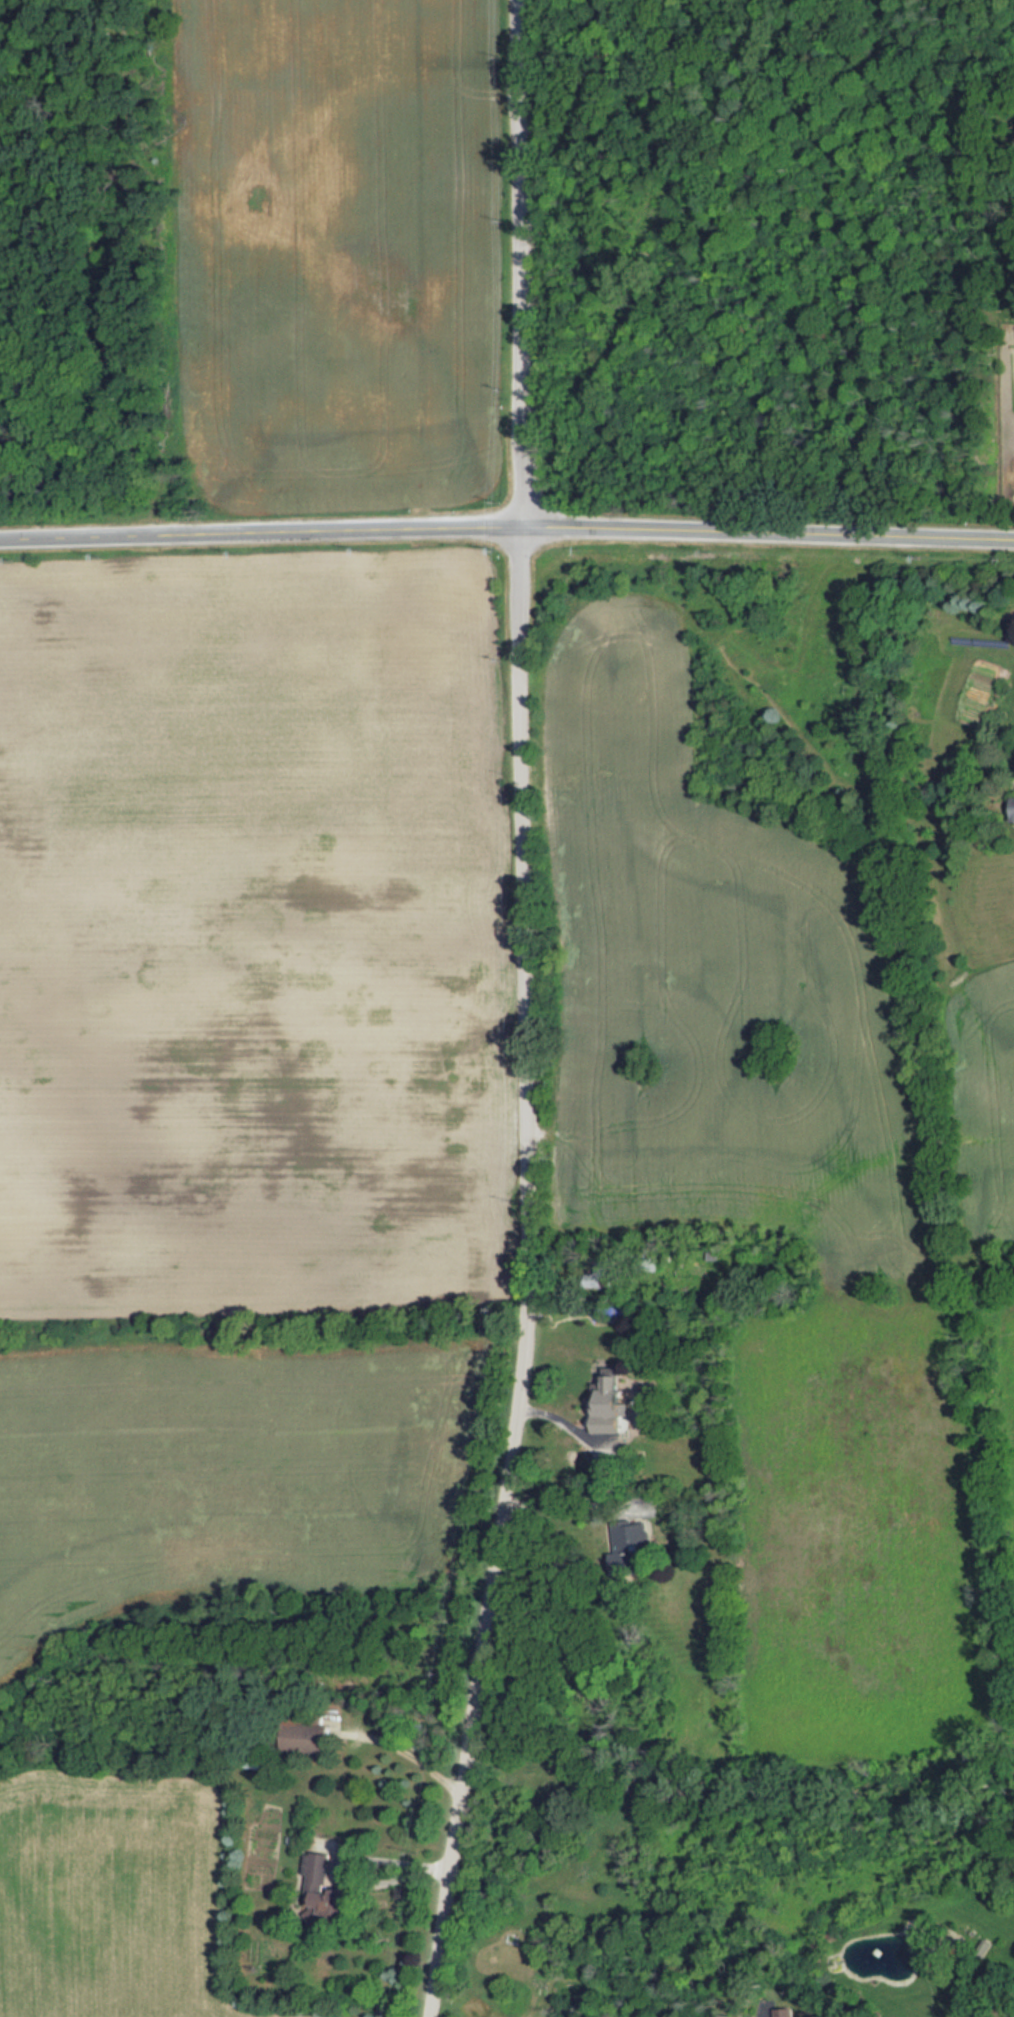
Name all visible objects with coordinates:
road: (507, 535)
building: (1011, 803)
road: (528, 813)
building: (594, 1279)
building: (586, 1426)
building: (563, 1445)
road: (563, 1500)
road: (482, 1633)
building: (309, 1739)
road: (411, 1757)
road: (456, 1829)
road: (354, 1886)
building: (320, 1888)

